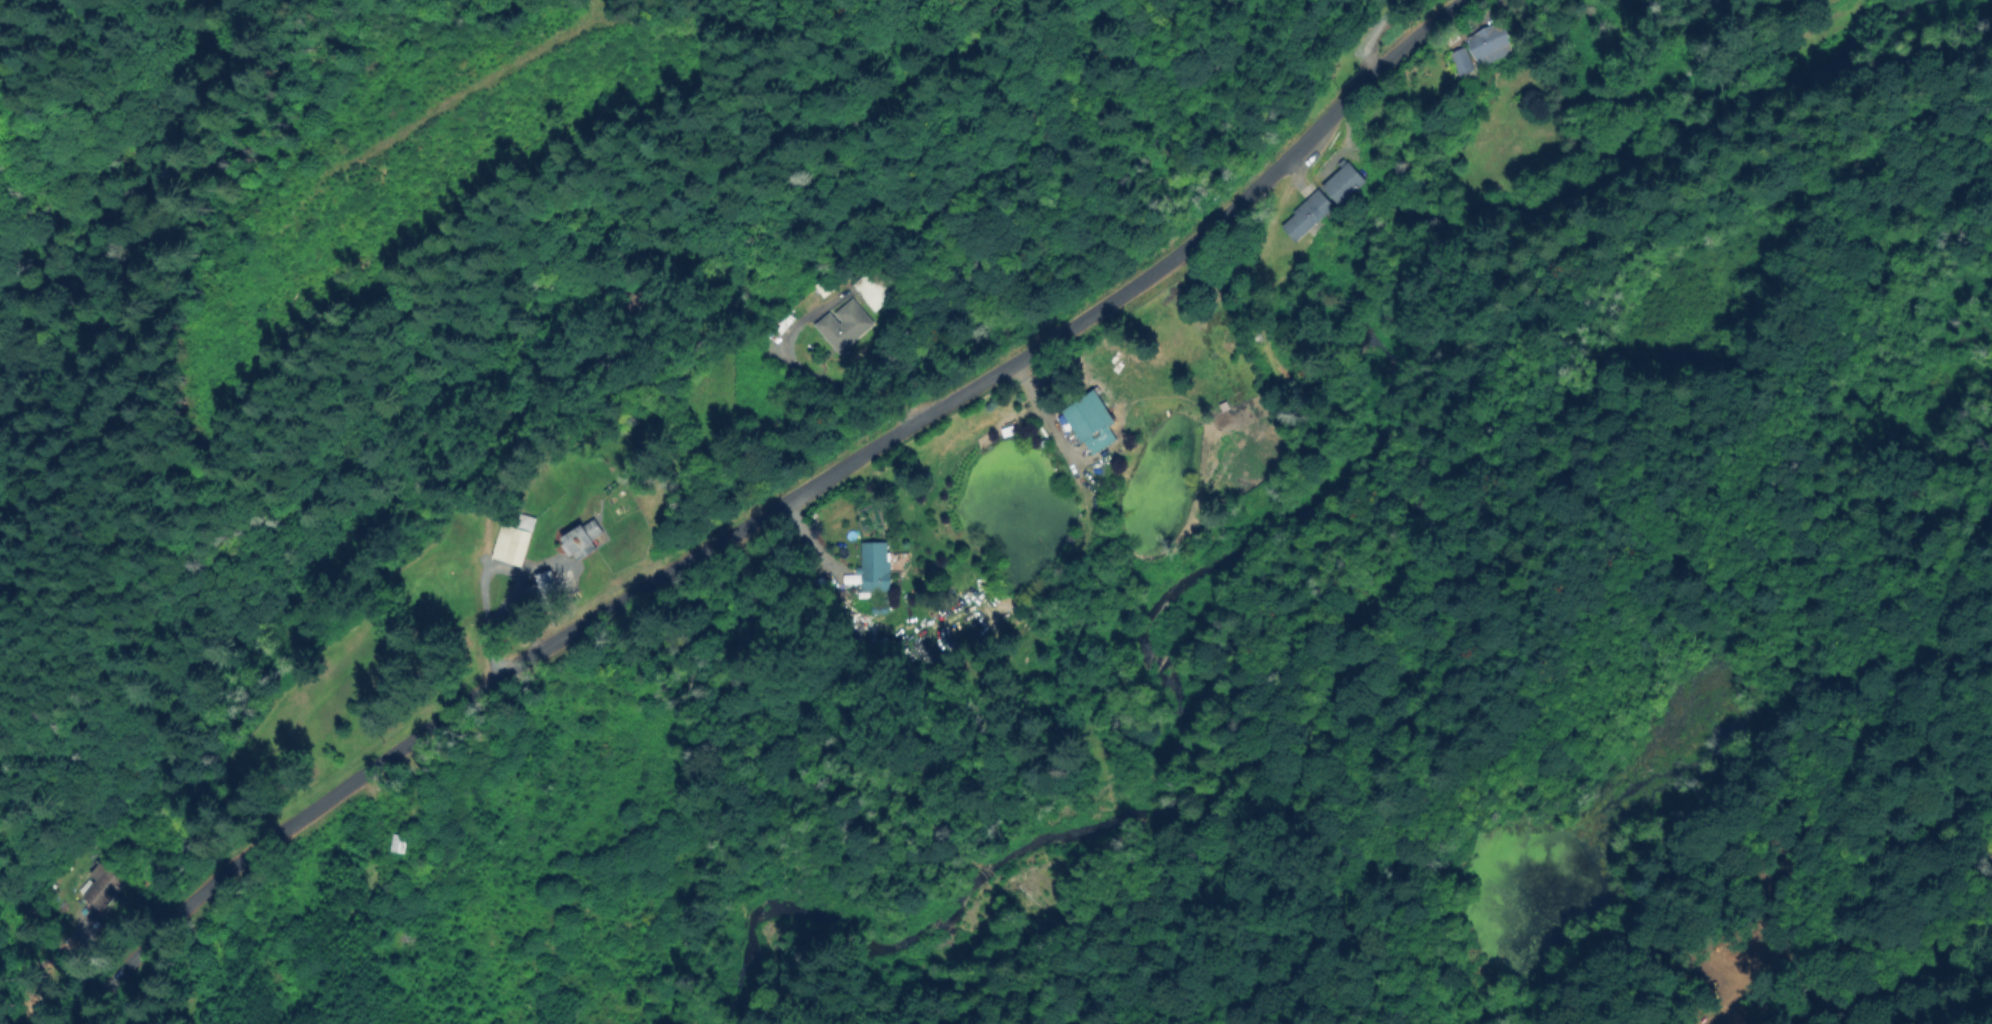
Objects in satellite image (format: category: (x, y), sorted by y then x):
building: (1491, 44)
building: (1464, 65)
building: (1345, 184)
building: (1309, 216)
building: (877, 289)
building: (846, 326)
building: (1089, 424)
road: (772, 511)
building: (585, 539)
building: (516, 540)
building: (874, 567)
building: (542, 585)
building: (869, 601)
building: (105, 886)

